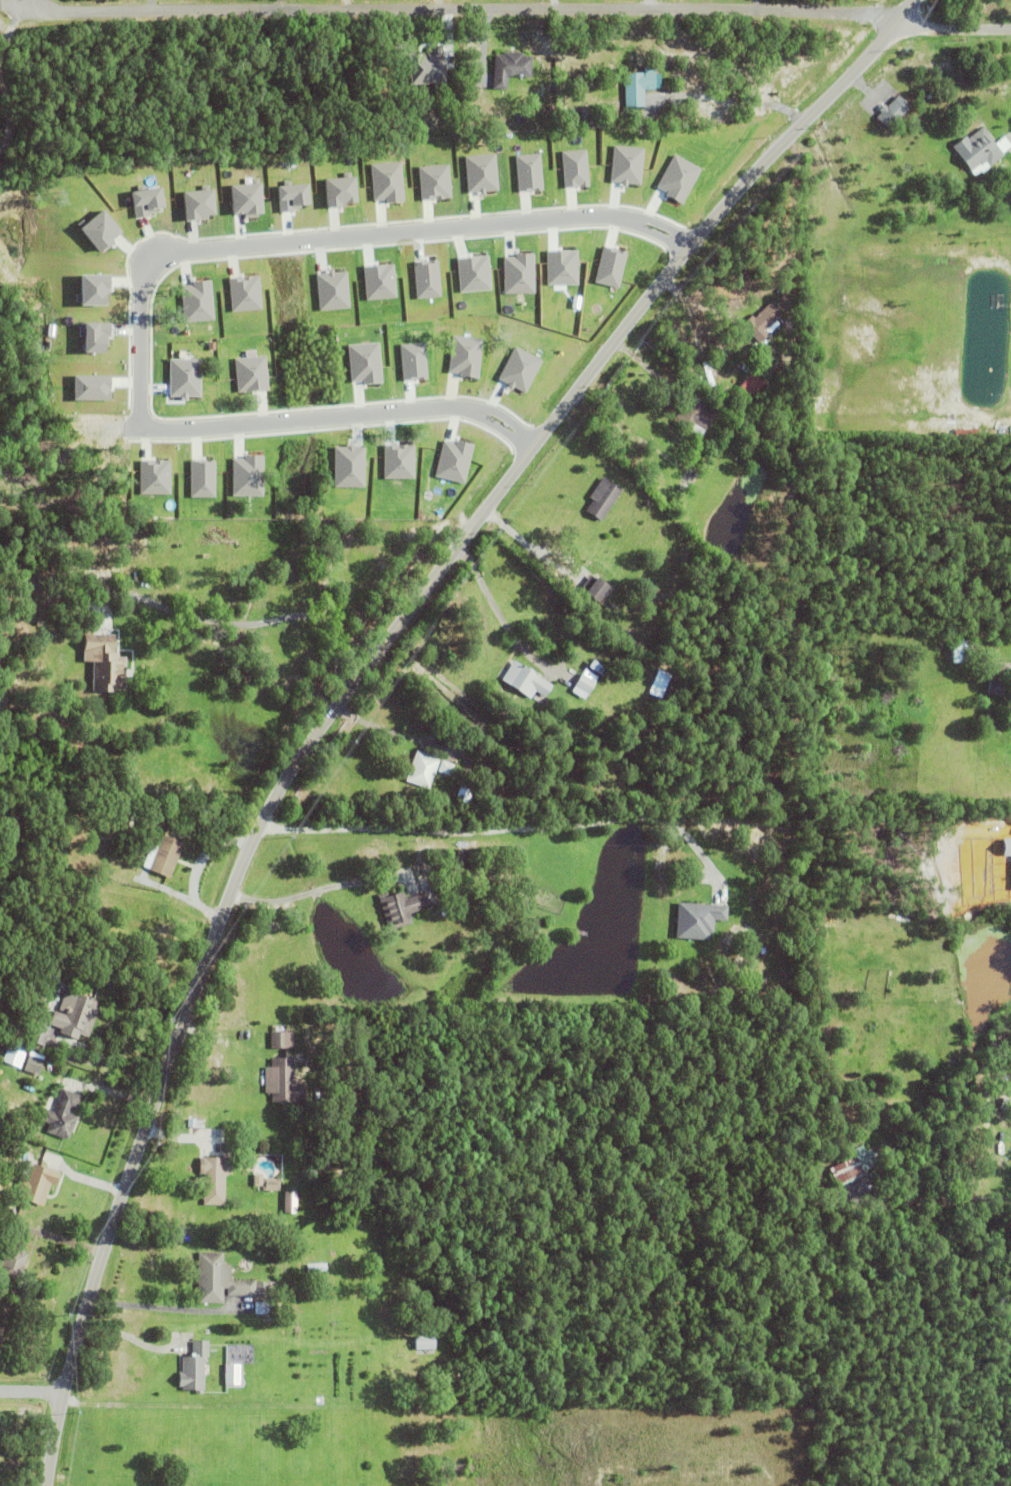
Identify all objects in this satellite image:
road: (552, 3)
road: (647, 3)
road: (10, 6)
road: (459, 7)
road: (953, 28)
building: (509, 69)
building: (638, 87)
road: (734, 102)
building: (891, 113)
building: (571, 119)
building: (977, 151)
building: (249, 198)
building: (200, 204)
building: (102, 229)
road: (147, 281)
building: (246, 293)
building: (198, 301)
building: (762, 324)
building: (466, 355)
building: (251, 373)
building: (185, 377)
building: (749, 390)
building: (694, 415)
building: (248, 475)
building: (155, 476)
building: (203, 478)
building: (601, 501)
road: (531, 548)
building: (596, 594)
road: (493, 606)
road: (244, 625)
building: (962, 654)
building: (106, 665)
road: (359, 676)
building: (588, 682)
building: (525, 683)
building: (660, 683)
building: (999, 690)
building: (445, 770)
building: (422, 772)
building: (463, 797)
road: (496, 835)
building: (16, 840)
building: (165, 854)
building: (456, 858)
road: (197, 874)
road: (318, 886)
building: (438, 903)
building: (400, 906)
building: (697, 917)
building: (67, 1017)
building: (278, 1038)
building: (13, 1056)
building: (32, 1063)
road: (107, 1064)
building: (283, 1080)
building: (61, 1113)
building: (194, 1121)
building: (852, 1164)
building: (214, 1177)
building: (37, 1183)
building: (270, 1183)
road: (929, 1196)
building: (290, 1202)
road: (59, 1238)
building: (304, 1250)
building: (12, 1256)
building: (222, 1279)
road: (162, 1304)
building: (389, 1312)
building: (1, 1330)
building: (425, 1341)
building: (195, 1367)
road: (32, 1391)
building: (319, 1400)

